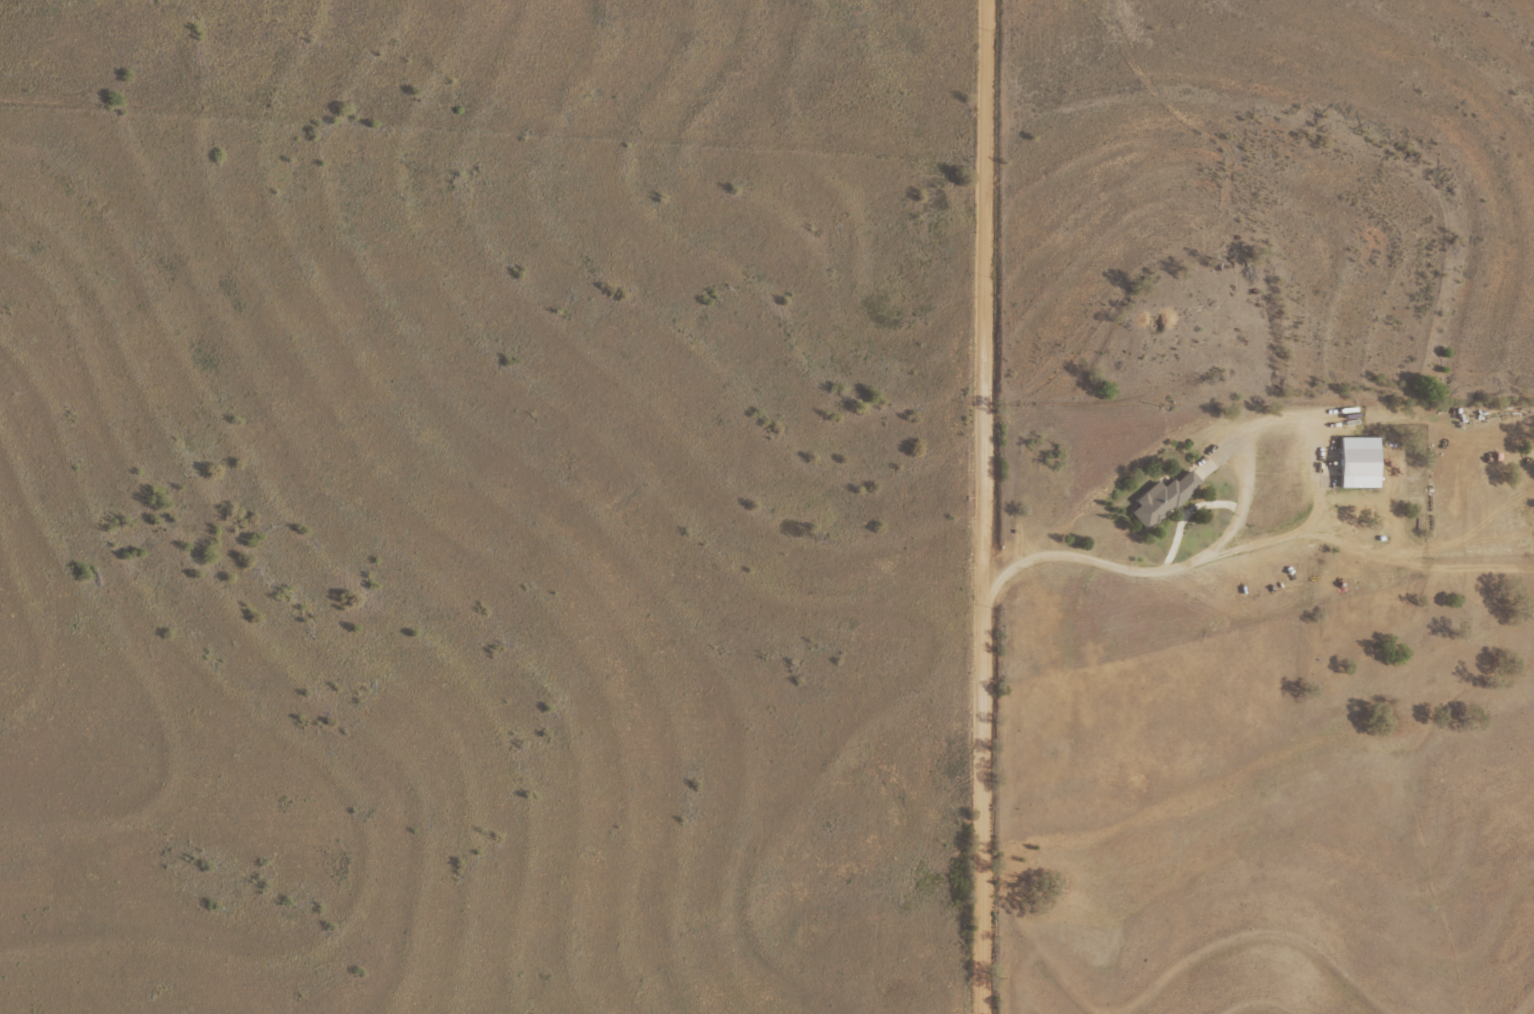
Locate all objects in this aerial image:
building: (1358, 462)
building: (1164, 499)
road: (988, 507)

